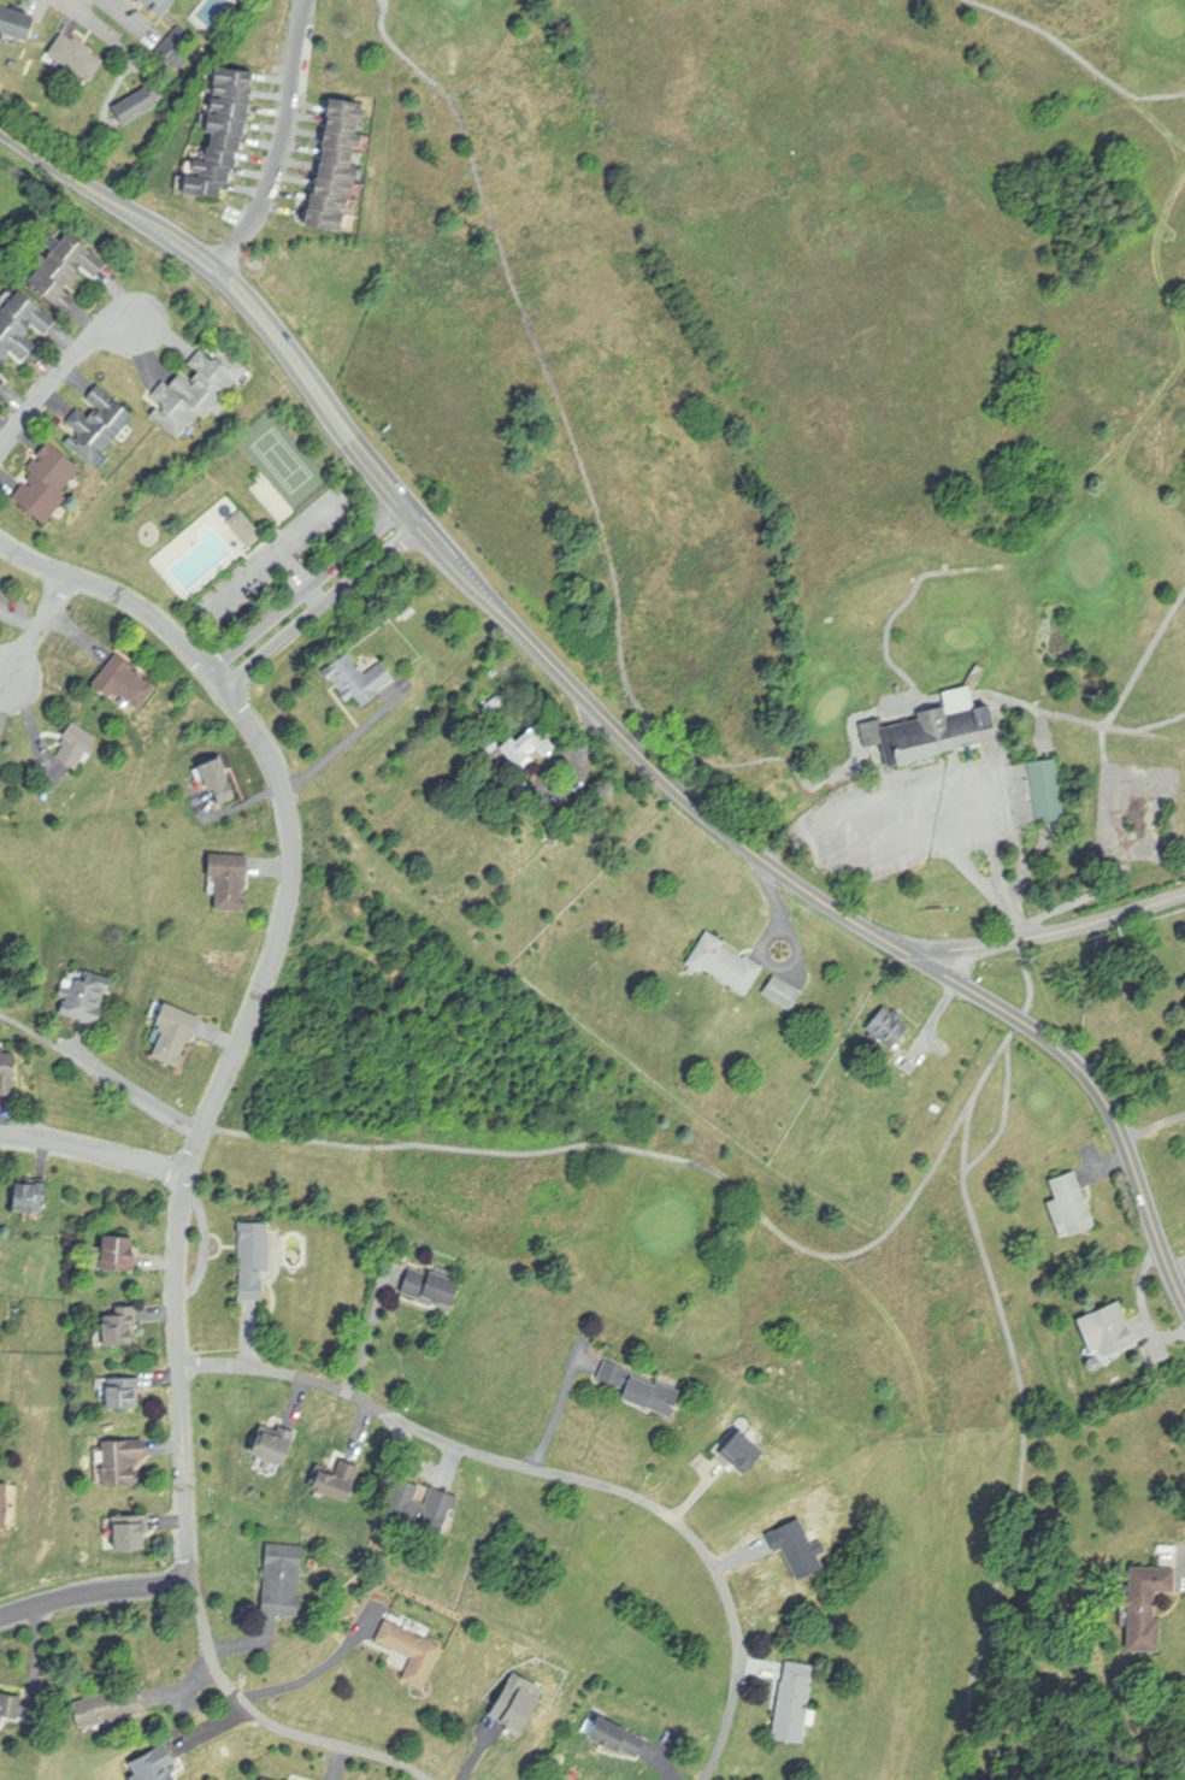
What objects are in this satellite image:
road: (81, 6)
building: (159, 6)
road: (86, 18)
building: (16, 23)
building: (179, 46)
building: (77, 57)
building: (137, 106)
building: (225, 131)
road: (285, 140)
building: (338, 166)
building: (65, 270)
building: (22, 324)
road: (60, 373)
building: (4, 381)
building: (200, 390)
building: (99, 425)
building: (47, 483)
building: (246, 529)
road: (309, 589)
road: (323, 608)
road: (41, 627)
road: (538, 648)
building: (359, 679)
park: (821, 683)
building: (125, 684)
building: (938, 729)
road: (346, 744)
building: (76, 745)
building: (0, 748)
building: (530, 748)
building: (219, 780)
parking lot: (916, 786)
building: (1048, 790)
parking lot: (950, 809)
building: (230, 880)
building: (726, 965)
building: (784, 994)
building: (86, 996)
building: (890, 1027)
building: (175, 1033)
building: (908, 1063)
building: (7, 1073)
road: (1091, 1078)
road: (222, 1088)
road: (135, 1092)
road: (94, 1150)
building: (30, 1197)
building: (1072, 1204)
building: (119, 1250)
building: (255, 1255)
building: (432, 1286)
building: (122, 1325)
building: (1109, 1328)
road: (371, 1337)
building: (647, 1385)
building: (124, 1391)
building: (275, 1442)
building: (122, 1458)
road: (564, 1475)
building: (340, 1477)
building: (4, 1502)
building: (421, 1504)
building: (131, 1529)
building: (283, 1579)
building: (1148, 1603)
building: (413, 1650)
road: (317, 1673)
building: (795, 1701)
building: (10, 1704)
building: (108, 1705)
road: (270, 1723)
building: (618, 1735)
building: (267, 1779)
building: (289, 1779)

